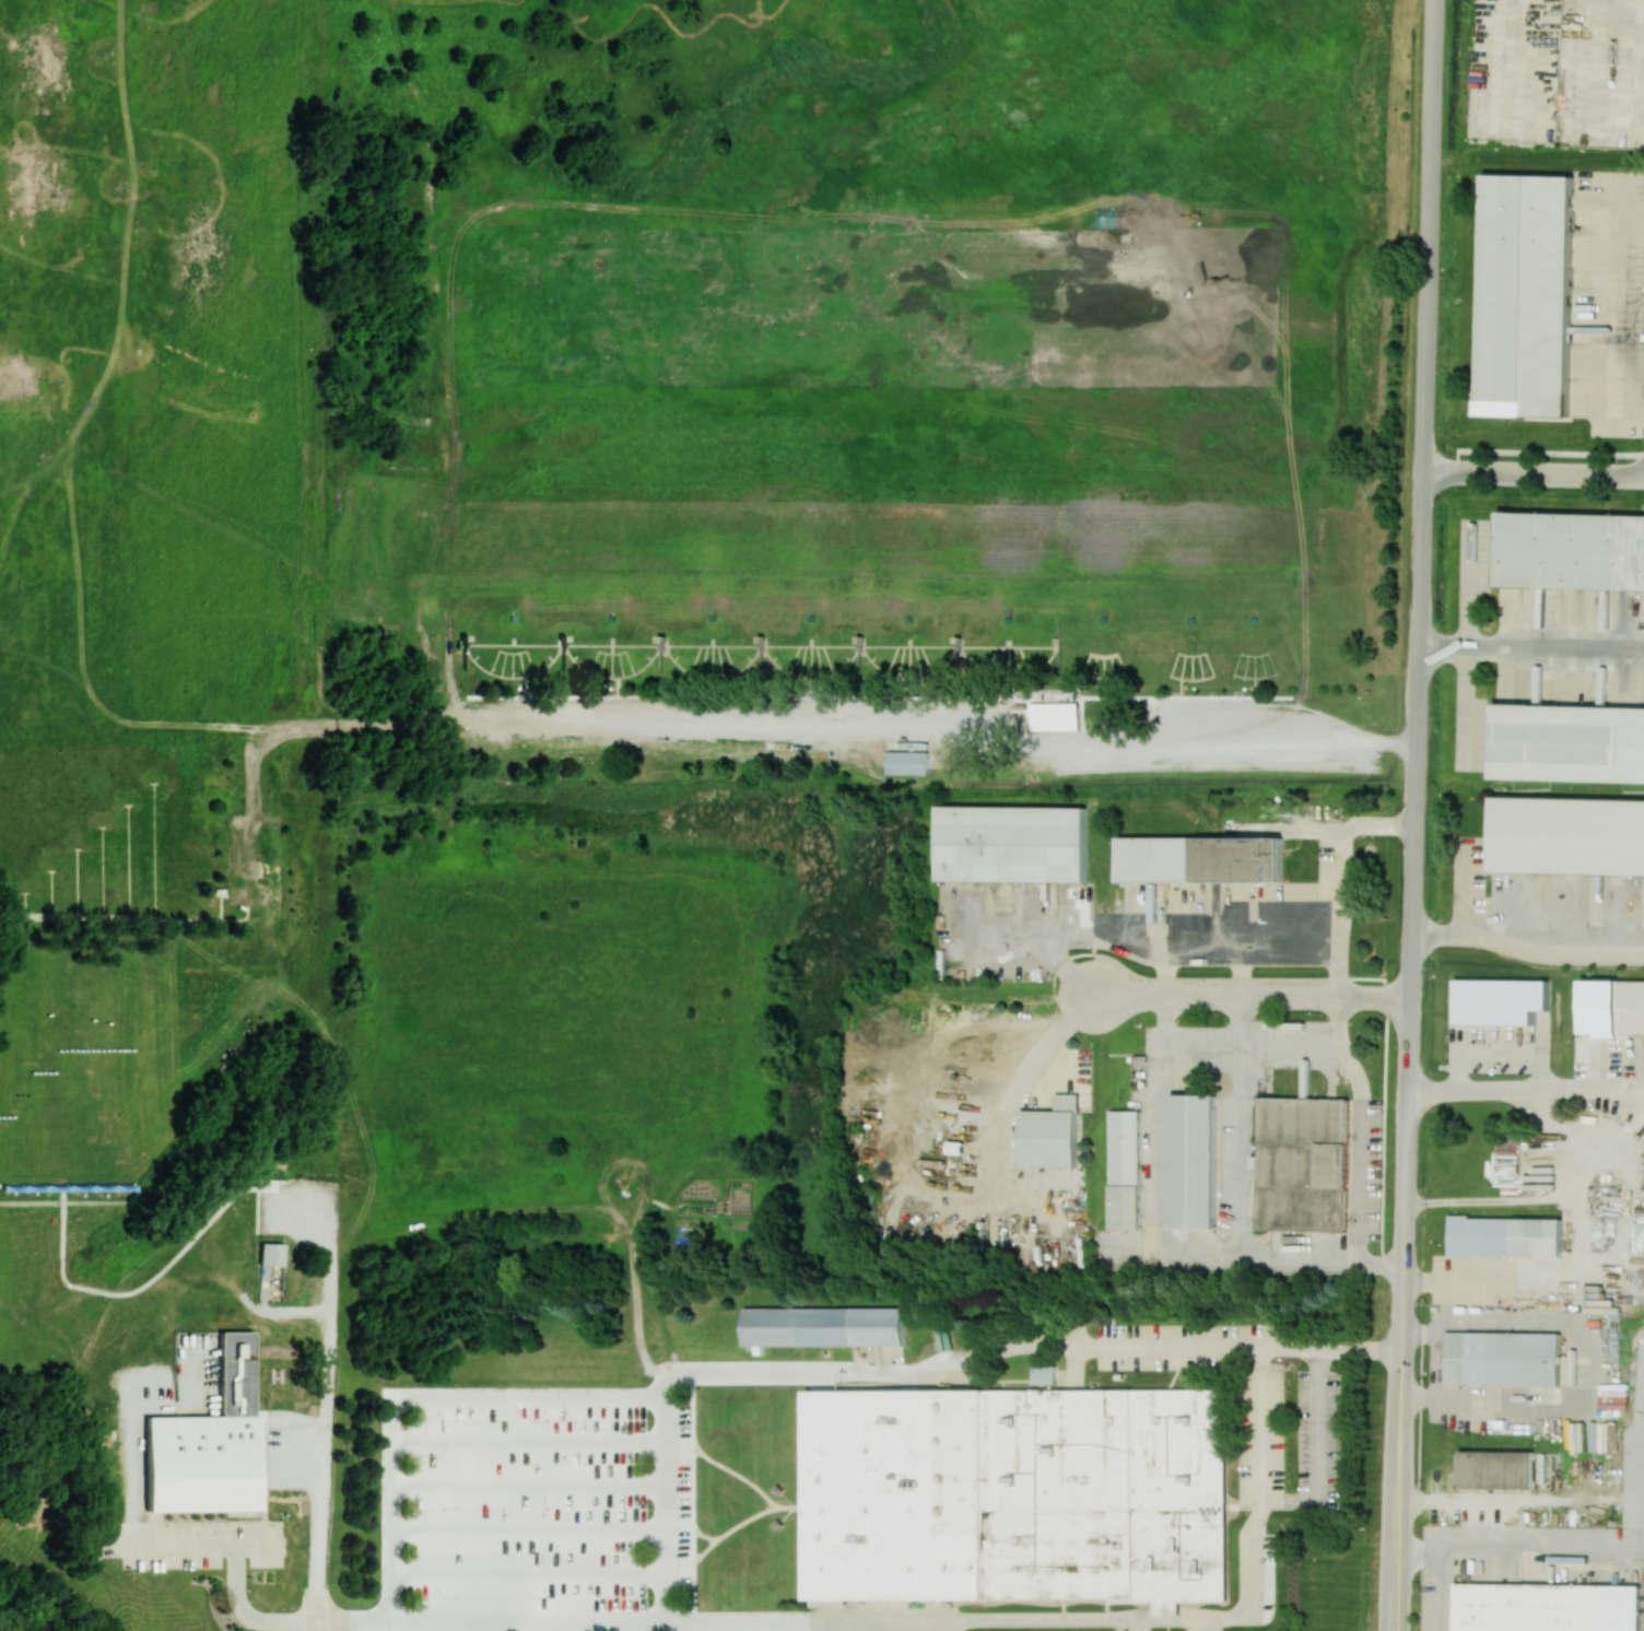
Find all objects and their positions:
road: (1511, 55)
road: (1431, 236)
building: (1526, 295)
road: (1612, 303)
park: (644, 455)
road: (1535, 474)
building: (1571, 551)
road: (1531, 637)
road: (1419, 702)
road: (943, 735)
building: (1569, 743)
building: (907, 762)
building: (1569, 836)
building: (1017, 845)
road: (1342, 849)
building: (1199, 859)
road: (1048, 927)
road: (1217, 944)
road: (1527, 950)
road: (1163, 971)
road: (1238, 971)
road: (1253, 998)
building: (1500, 1000)
building: (1623, 1010)
road: (1240, 1022)
road: (1337, 1022)
road: (1351, 1067)
road: (1022, 1077)
road: (1636, 1082)
road: (1518, 1087)
road: (1636, 1092)
building: (1050, 1138)
building: (1198, 1163)
building: (1303, 1164)
building: (1124, 1170)
road: (1491, 1199)
building: (1504, 1236)
road: (1404, 1242)
road: (1161, 1245)
road: (1581, 1251)
building: (270, 1254)
building: (824, 1326)
building: (1502, 1359)
road: (1585, 1360)
building: (1044, 1374)
road: (912, 1375)
road: (328, 1392)
road: (413, 1395)
building: (207, 1444)
road: (1320, 1452)
building: (1496, 1469)
building: (1017, 1495)
road: (181, 1542)
road: (1519, 1547)
road: (1643, 1549)
road: (1445, 1591)
road: (1393, 1592)
road: (316, 1608)
building: (1551, 1609)
road: (920, 1622)
road: (940, 1627)

